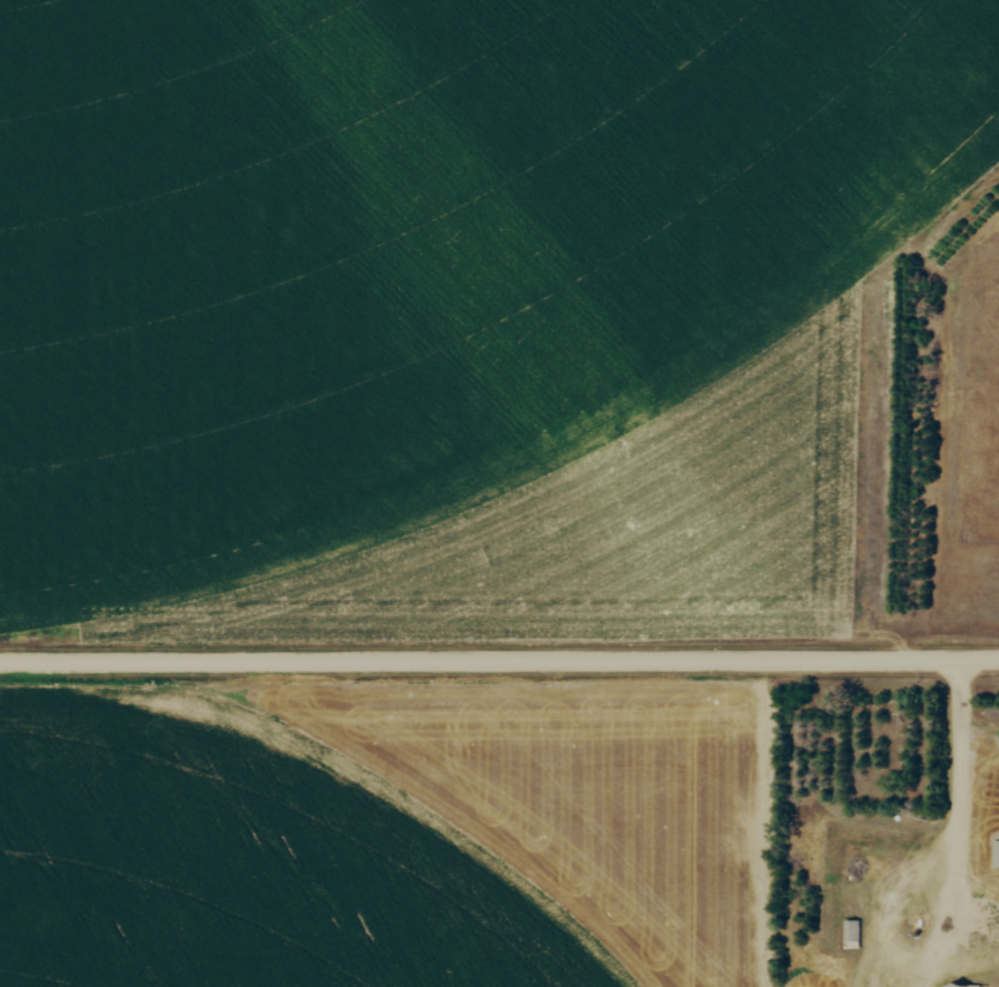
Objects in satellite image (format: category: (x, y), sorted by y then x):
road: (499, 664)
road: (962, 756)
building: (996, 855)
building: (851, 934)
building: (961, 985)

